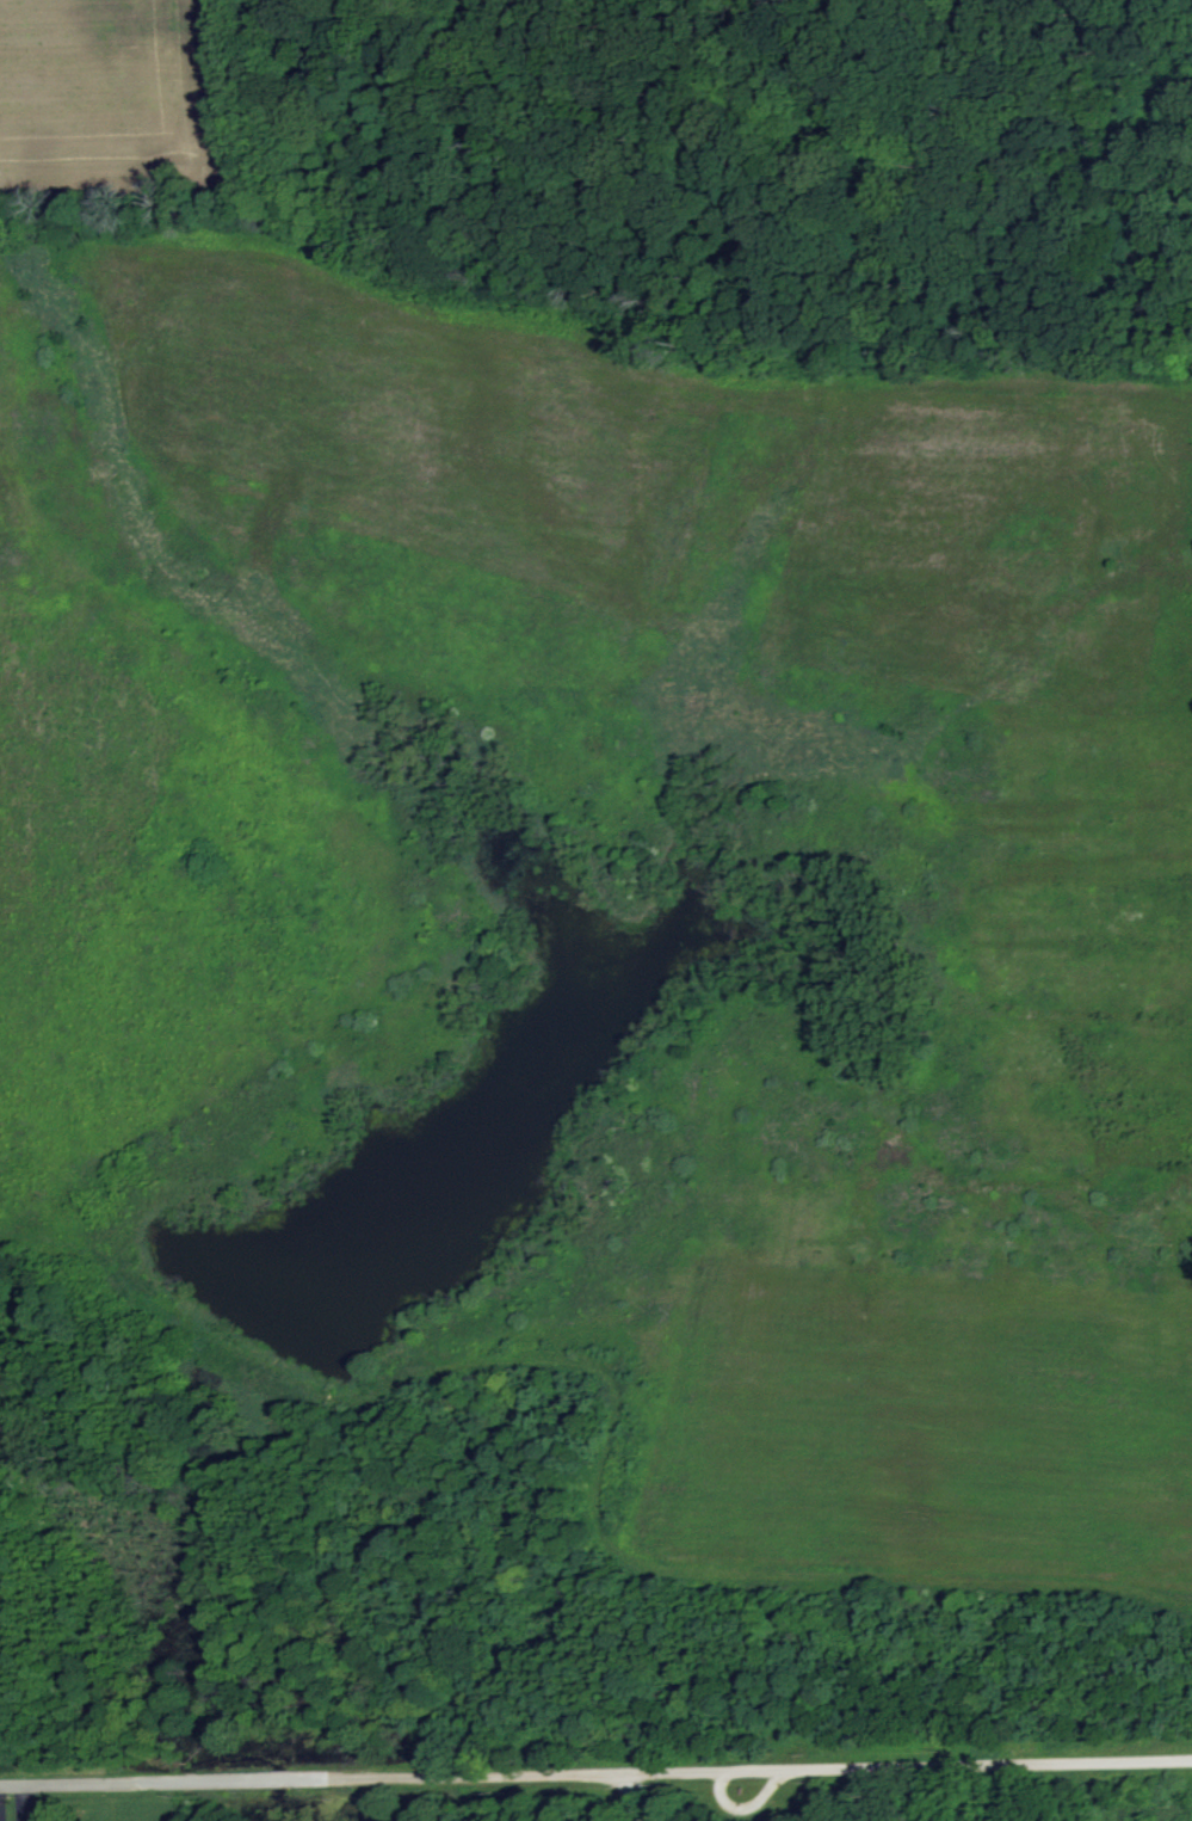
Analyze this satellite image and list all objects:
park: (598, 906)
road: (706, 1767)
road: (111, 1784)

